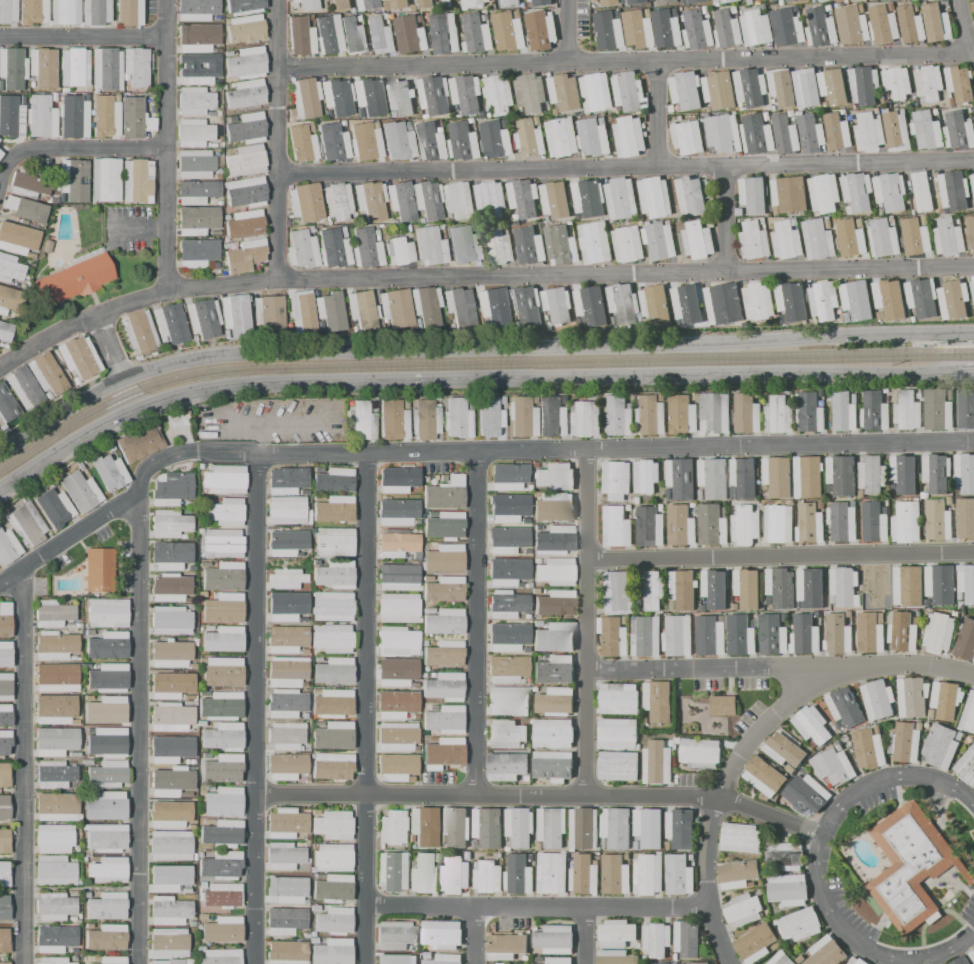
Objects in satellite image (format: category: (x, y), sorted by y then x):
building: (391, 0)
building: (725, 0)
building: (821, 0)
building: (846, 0)
building: (853, 0)
building: (385, 1)
building: (636, 1)
building: (665, 1)
building: (696, 1)
building: (749, 1)
building: (781, 1)
building: (791, 1)
building: (814, 1)
building: (509, 2)
building: (609, 2)
building: (683, 2)
building: (715, 2)
building: (423, 3)
building: (446, 3)
building: (475, 3)
building: (542, 3)
building: (973, 3)
building: (340, 4)
building: (369, 4)
building: (304, 5)
building: (464, 5)
building: (763, 5)
building: (245, 6)
building: (891, 7)
building: (916, 7)
building: (680, 8)
building: (796, 8)
building: (861, 8)
building: (197, 9)
building: (354, 9)
building: (705, 9)
building: (734, 9)
building: (8, 11)
building: (32, 11)
building: (65, 12)
building: (95, 12)
building: (129, 13)
building: (309, 17)
building: (485, 17)
building: (334, 18)
building: (361, 18)
building: (421, 18)
building: (215, 19)
building: (388, 21)
building: (936, 22)
building: (883, 24)
building: (910, 24)
building: (852, 25)
road: (965, 26)
building: (786, 27)
building: (820, 27)
building: (638, 28)
building: (666, 28)
building: (697, 28)
building: (755, 28)
building: (245, 29)
road: (571, 29)
building: (727, 29)
building: (541, 30)
building: (608, 30)
building: (508, 33)
building: (444, 34)
building: (476, 34)
building: (353, 35)
building: (382, 35)
building: (410, 35)
building: (300, 36)
road: (84, 37)
building: (331, 38)
building: (196, 39)
building: (225, 54)
road: (624, 56)
building: (246, 64)
building: (43, 67)
building: (74, 67)
building: (136, 67)
building: (12, 69)
building: (106, 70)
building: (197, 70)
building: (210, 82)
building: (895, 82)
building: (929, 82)
building: (959, 83)
building: (31, 84)
building: (831, 84)
building: (865, 84)
building: (0, 86)
building: (781, 86)
building: (224, 87)
building: (750, 87)
building: (805, 87)
building: (685, 89)
building: (63, 90)
building: (719, 90)
building: (627, 91)
building: (466, 92)
building: (530, 92)
building: (564, 92)
building: (595, 92)
building: (338, 93)
building: (498, 93)
building: (434, 94)
building: (245, 95)
building: (369, 95)
building: (53, 97)
building: (85, 97)
building: (399, 97)
building: (116, 98)
building: (305, 98)
building: (772, 100)
building: (195, 101)
building: (951, 101)
building: (670, 107)
building: (773, 107)
building: (152, 109)
building: (704, 109)
building: (877, 110)
building: (886, 110)
building: (902, 110)
road: (658, 111)
building: (843, 111)
building: (935, 111)
building: (799, 112)
building: (211, 113)
building: (218, 113)
building: (791, 114)
building: (392, 115)
building: (766, 115)
building: (41, 116)
building: (104, 116)
building: (327, 116)
building: (361, 116)
building: (426, 116)
building: (72, 117)
building: (692, 117)
building: (11, 118)
building: (134, 118)
building: (471, 120)
building: (792, 120)
building: (538, 121)
building: (342, 122)
building: (373, 124)
building: (973, 124)
building: (407, 126)
building: (310, 127)
building: (246, 128)
building: (440, 128)
building: (926, 130)
building: (959, 130)
building: (836, 131)
building: (868, 131)
building: (896, 131)
building: (193, 133)
building: (723, 133)
building: (756, 134)
building: (784, 134)
building: (811, 134)
building: (628, 136)
building: (561, 137)
building: (688, 137)
building: (529, 138)
building: (593, 138)
road: (277, 139)
building: (497, 140)
building: (462, 141)
building: (333, 142)
building: (399, 142)
building: (430, 142)
building: (302, 144)
road: (168, 145)
building: (213, 145)
building: (364, 145)
building: (207, 147)
road: (78, 151)
building: (1, 154)
building: (245, 161)
building: (195, 165)
road: (625, 167)
building: (218, 175)
building: (105, 180)
building: (72, 181)
building: (137, 182)
building: (28, 183)
building: (972, 183)
building: (921, 189)
building: (857, 191)
building: (890, 191)
building: (954, 191)
building: (197, 192)
building: (245, 192)
building: (824, 192)
building: (752, 194)
building: (788, 194)
building: (690, 196)
building: (523, 197)
building: (654, 197)
building: (490, 198)
building: (587, 198)
building: (620, 198)
building: (554, 199)
building: (53, 200)
building: (370, 200)
building: (404, 200)
building: (458, 200)
building: (337, 201)
building: (430, 201)
building: (218, 202)
building: (305, 202)
building: (213, 203)
building: (25, 209)
building: (849, 210)
building: (941, 210)
building: (225, 211)
building: (881, 211)
building: (768, 214)
road: (726, 216)
building: (225, 217)
building: (516, 217)
building: (892, 219)
building: (924, 220)
building: (198, 221)
building: (421, 221)
building: (794, 221)
building: (957, 221)
building: (24, 222)
building: (394, 222)
building: (450, 222)
building: (762, 223)
building: (827, 223)
building: (859, 223)
building: (245, 225)
building: (380, 226)
road: (140, 227)
building: (440, 228)
building: (34, 229)
parking lot: (127, 229)
building: (406, 229)
building: (310, 230)
building: (215, 233)
building: (376, 233)
building: (970, 233)
building: (915, 236)
building: (948, 237)
building: (850, 238)
building: (882, 238)
building: (16, 239)
building: (817, 239)
building: (659, 240)
building: (697, 240)
building: (753, 240)
building: (786, 240)
building: (594, 242)
building: (627, 244)
building: (497, 245)
building: (529, 245)
building: (560, 245)
building: (225, 246)
building: (429, 246)
building: (46, 247)
building: (463, 248)
building: (333, 249)
building: (366, 249)
building: (302, 250)
building: (197, 252)
building: (399, 252)
building: (245, 255)
building: (10, 269)
road: (477, 273)
building: (74, 280)
building: (972, 290)
building: (855, 297)
building: (922, 297)
building: (791, 299)
building: (887, 299)
building: (953, 299)
building: (6, 300)
building: (823, 300)
flagpole: (83, 301)
building: (759, 301)
building: (622, 303)
building: (686, 303)
building: (525, 304)
building: (557, 304)
building: (653, 304)
building: (723, 304)
building: (590, 305)
building: (426, 307)
building: (493, 307)
building: (329, 308)
building: (396, 308)
building: (458, 309)
building: (362, 310)
building: (302, 312)
building: (235, 314)
building: (269, 314)
building: (203, 319)
building: (171, 322)
building: (5, 332)
building: (140, 332)
building: (226, 338)
building: (194, 339)
railway: (937, 343)
building: (195, 344)
building: (1, 345)
road: (111, 347)
road: (475, 349)
building: (79, 357)
railway: (474, 360)
railway: (474, 368)
building: (48, 373)
road: (965, 373)
road: (464, 378)
building: (75, 381)
road: (474, 387)
building: (25, 388)
building: (885, 389)
building: (790, 391)
building: (920, 391)
building: (821, 393)
building: (758, 395)
building: (919, 395)
building: (48, 396)
building: (697, 396)
building: (951, 396)
building: (854, 398)
building: (888, 398)
building: (565, 401)
building: (7, 404)
building: (374, 405)
building: (630, 405)
building: (965, 407)
building: (907, 410)
building: (937, 410)
building: (844, 411)
building: (875, 411)
building: (713, 412)
building: (811, 412)
building: (747, 414)
building: (618, 415)
building: (650, 415)
building: (682, 415)
building: (778, 415)
building: (552, 416)
building: (522, 417)
building: (210, 419)
building: (457, 419)
building: (586, 419)
building: (425, 420)
building: (489, 420)
building: (173, 421)
building: (361, 421)
building: (393, 423)
building: (4, 429)
building: (211, 435)
building: (140, 443)
road: (546, 449)
building: (535, 465)
building: (79, 466)
building: (201, 466)
building: (208, 466)
building: (318, 469)
building: (108, 470)
building: (936, 472)
building: (965, 472)
building: (903, 473)
building: (871, 474)
building: (840, 475)
building: (645, 476)
building: (777, 476)
building: (808, 476)
building: (509, 477)
building: (555, 477)
building: (713, 477)
building: (743, 477)
building: (680, 478)
building: (398, 479)
building: (616, 479)
building: (224, 480)
building: (286, 480)
building: (334, 480)
building: (529, 488)
building: (171, 489)
building: (828, 489)
building: (524, 490)
building: (80, 492)
building: (303, 493)
building: (445, 493)
building: (733, 493)
building: (861, 493)
building: (668, 494)
building: (701, 495)
building: (924, 495)
building: (631, 497)
building: (916, 498)
building: (637, 499)
building: (783, 501)
building: (949, 501)
building: (790, 502)
building: (853, 503)
building: (821, 504)
building: (54, 507)
building: (553, 507)
building: (661, 507)
building: (508, 508)
building: (629, 509)
building: (285, 510)
building: (334, 510)
building: (725, 511)
building: (828, 511)
building: (224, 512)
building: (398, 512)
building: (693, 514)
building: (309, 517)
building: (965, 519)
building: (937, 520)
building: (525, 521)
building: (843, 521)
building: (416, 522)
building: (874, 522)
building: (906, 522)
building: (169, 523)
building: (809, 523)
building: (26, 524)
building: (712, 524)
building: (745, 524)
building: (778, 524)
building: (443, 525)
building: (681, 525)
building: (616, 526)
building: (648, 526)
building: (539, 528)
building: (200, 531)
road: (69, 536)
building: (507, 540)
building: (553, 540)
building: (285, 542)
building: (333, 542)
building: (223, 543)
building: (396, 543)
building: (9, 548)
building: (526, 552)
building: (298, 555)
road: (780, 555)
building: (170, 556)
building: (409, 556)
building: (443, 558)
building: (536, 561)
building: (316, 563)
building: (204, 564)
building: (190, 569)
building: (99, 570)
building: (508, 572)
building: (555, 572)
building: (335, 575)
building: (223, 577)
building: (398, 578)
building: (286, 579)
building: (428, 579)
building: (966, 582)
building: (519, 584)
building: (939, 584)
building: (529, 585)
building: (876, 585)
building: (844, 586)
building: (907, 586)
building: (169, 588)
building: (779, 588)
building: (809, 588)
building: (444, 589)
building: (714, 589)
building: (745, 589)
building: (652, 590)
building: (681, 590)
building: (535, 591)
building: (618, 592)
building: (960, 595)
building: (201, 596)
building: (832, 599)
building: (928, 599)
building: (187, 600)
building: (555, 603)
building: (507, 605)
building: (799, 605)
building: (928, 606)
building: (331, 607)
building: (222, 608)
building: (284, 608)
building: (398, 608)
building: (640, 608)
building: (703, 608)
building: (428, 611)
building: (107, 612)
building: (955, 612)
building: (849, 613)
building: (52, 614)
building: (816, 614)
building: (527, 617)
building: (784, 617)
building: (880, 617)
building: (308, 618)
building: (721, 618)
building: (961, 618)
building: (915, 619)
building: (5, 620)
building: (625, 620)
building: (170, 621)
road: (586, 621)
building: (444, 622)
road: (474, 622)
building: (537, 623)
building: (753, 624)
building: (77, 625)
building: (69, 626)
building: (209, 628)
building: (902, 632)
building: (938, 632)
building: (86, 633)
building: (837, 633)
building: (870, 633)
building: (645, 635)
building: (740, 635)
building: (772, 635)
building: (677, 636)
building: (710, 636)
building: (805, 636)
building: (508, 637)
building: (554, 637)
building: (612, 637)
building: (332, 639)
building: (168, 640)
building: (221, 640)
building: (285, 640)
building: (396, 641)
building: (965, 641)
building: (424, 643)
building: (54, 646)
building: (107, 646)
building: (525, 650)
building: (304, 651)
building: (168, 654)
building: (443, 654)
building: (5, 655)
building: (544, 657)
building: (72, 658)
building: (318, 659)
building: (85, 667)
building: (193, 667)
road: (728, 668)
building: (506, 669)
building: (554, 670)
building: (222, 672)
building: (286, 672)
building: (333, 672)
building: (397, 672)
road: (968, 673)
building: (423, 675)
building: (108, 677)
building: (56, 678)
building: (521, 681)
building: (170, 685)
building: (414, 685)
building: (5, 686)
building: (443, 687)
building: (536, 689)
building: (212, 690)
building: (912, 696)
building: (189, 697)
building: (618, 698)
building: (84, 699)
building: (877, 699)
building: (946, 699)
building: (508, 700)
building: (657, 701)
building: (555, 702)
building: (285, 703)
building: (332, 703)
building: (396, 704)
building: (722, 705)
building: (219, 706)
building: (845, 706)
building: (85, 708)
road: (255, 708)
road: (364, 708)
building: (432, 708)
building: (54, 709)
building: (110, 709)
building: (931, 713)
building: (968, 713)
building: (6, 716)
building: (304, 716)
building: (170, 717)
building: (415, 717)
building: (313, 718)
building: (444, 720)
building: (646, 720)
building: (74, 722)
building: (200, 724)
building: (318, 724)
building: (811, 724)
building: (920, 725)
road: (136, 727)
building: (877, 729)
building: (190, 730)
building: (553, 733)
building: (617, 733)
building: (507, 734)
building: (959, 735)
building: (285, 736)
building: (333, 736)
building: (397, 736)
building: (223, 737)
building: (424, 738)
building: (676, 739)
building: (55, 741)
building: (106, 741)
road: (750, 742)
building: (904, 742)
building: (4, 743)
building: (813, 743)
building: (670, 744)
building: (674, 746)
building: (839, 746)
building: (940, 746)
building: (784, 747)
building: (300, 748)
building: (170, 749)
building: (416, 749)
building: (869, 749)
building: (443, 751)
building: (700, 752)
building: (74, 754)
building: (200, 757)
building: (86, 762)
building: (190, 762)
building: (656, 763)
building: (553, 765)
building: (618, 765)
road: (19, 766)
building: (286, 766)
building: (331, 766)
building: (506, 766)
building: (966, 766)
building: (832, 767)
building: (224, 768)
building: (396, 768)
building: (789, 768)
building: (55, 774)
building: (5, 775)
building: (106, 775)
building: (764, 776)
building: (527, 778)
building: (170, 781)
building: (306, 782)
building: (203, 790)
building: (185, 795)
road: (542, 795)
building: (805, 795)
building: (223, 802)
building: (104, 806)
building: (57, 807)
building: (5, 808)
building: (169, 814)
building: (208, 822)
building: (286, 823)
building: (333, 825)
building: (519, 825)
building: (423, 826)
building: (454, 826)
building: (551, 826)
building: (191, 827)
building: (392, 827)
building: (487, 827)
building: (615, 827)
building: (648, 827)
building: (680, 827)
building: (583, 828)
building: (221, 834)
building: (106, 838)
building: (411, 838)
building: (740, 838)
building: (54, 839)
building: (4, 842)
building: (603, 842)
building: (475, 844)
building: (170, 845)
building: (381, 846)
building: (508, 848)
building: (539, 848)
building: (76, 849)
building: (206, 850)
building: (195, 851)
building: (467, 854)
building: (472, 854)
building: (500, 854)
building: (199, 855)
building: (596, 855)
building: (284, 856)
building: (627, 856)
building: (333, 857)
building: (531, 857)
building: (691, 857)
building: (784, 857)
building: (435, 858)
building: (84, 860)
building: (595, 861)
building: (910, 865)
building: (220, 866)
road: (820, 866)
building: (108, 870)
building: (55, 871)
building: (392, 871)
building: (552, 872)
building: (4, 874)
building: (194, 874)
building: (519, 874)
building: (615, 874)
building: (647, 874)
building: (678, 874)
building: (737, 874)
building: (422, 875)
building: (454, 875)
building: (583, 875)
building: (487, 877)
building: (167, 878)
building: (78, 882)
building: (751, 883)
building: (202, 885)
building: (332, 887)
building: (283, 889)
building: (789, 890)
building: (191, 891)
building: (185, 892)
building: (86, 894)
building: (221, 896)
road: (536, 905)
building: (55, 906)
building: (107, 906)
building: (4, 908)
building: (743, 910)
building: (170, 911)
building: (79, 917)
building: (202, 917)
building: (72, 919)
building: (284, 920)
building: (333, 921)
building: (799, 924)
building: (192, 925)
building: (89, 926)
building: (222, 930)
building: (616, 933)
building: (441, 934)
road: (472, 934)
road: (584, 934)
building: (395, 935)
building: (55, 938)
building: (106, 938)
building: (554, 939)
building: (655, 939)
building: (686, 939)
building: (4, 941)
building: (168, 943)
building: (755, 944)
building: (506, 945)
building: (638, 945)
building: (776, 946)
building: (409, 948)
building: (73, 951)
building: (331, 951)
building: (826, 952)
building: (285, 953)
building: (971, 954)
building: (428, 955)
building: (218, 956)
building: (525, 957)
building: (617, 957)
building: (675, 957)
building: (394, 958)
building: (785, 958)
building: (94, 959)
building: (444, 959)
building: (540, 959)
building: (52, 960)
building: (111, 960)
building: (960, 960)
building: (168, 961)
building: (189, 961)
building: (559, 961)
building: (856, 961)
road: (924, 961)
building: (4, 962)
building: (500, 963)
building: (675, 963)
building: (697, 963)

